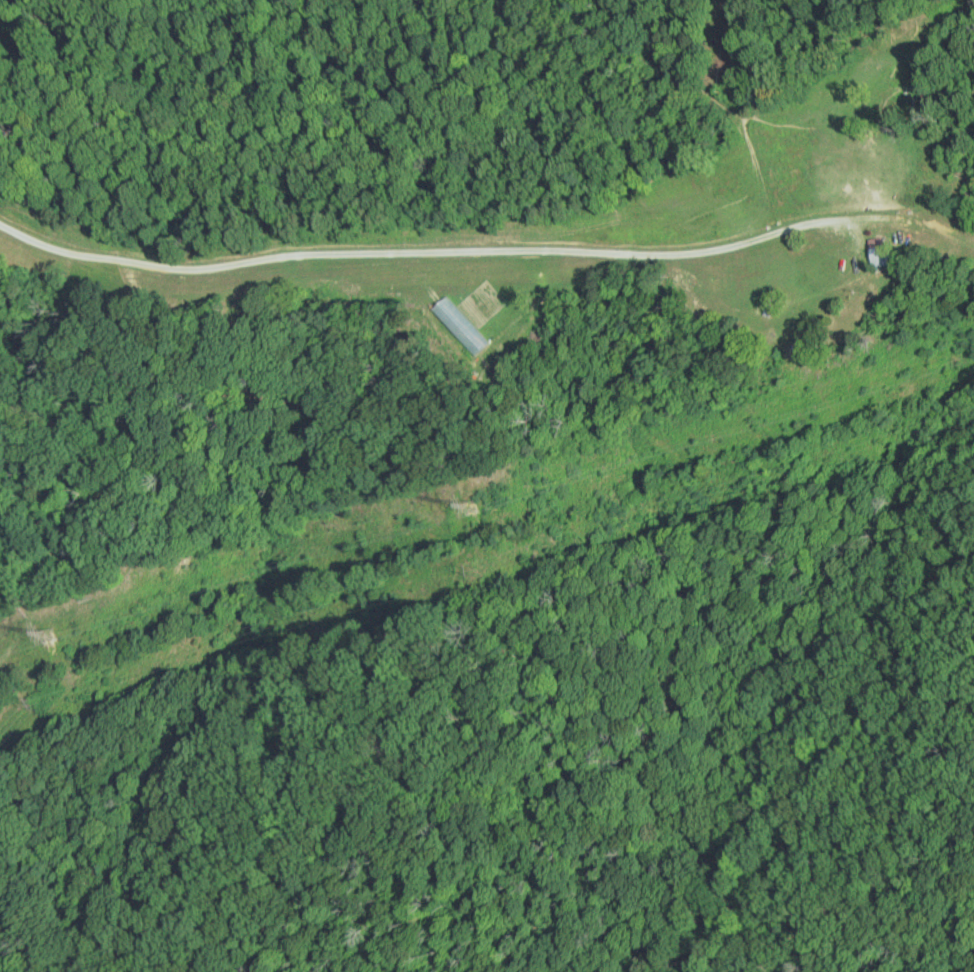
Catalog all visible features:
road: (485, 270)
power tower: (464, 510)
power tower: (470, 570)
power tower: (50, 635)
power tower: (32, 704)

